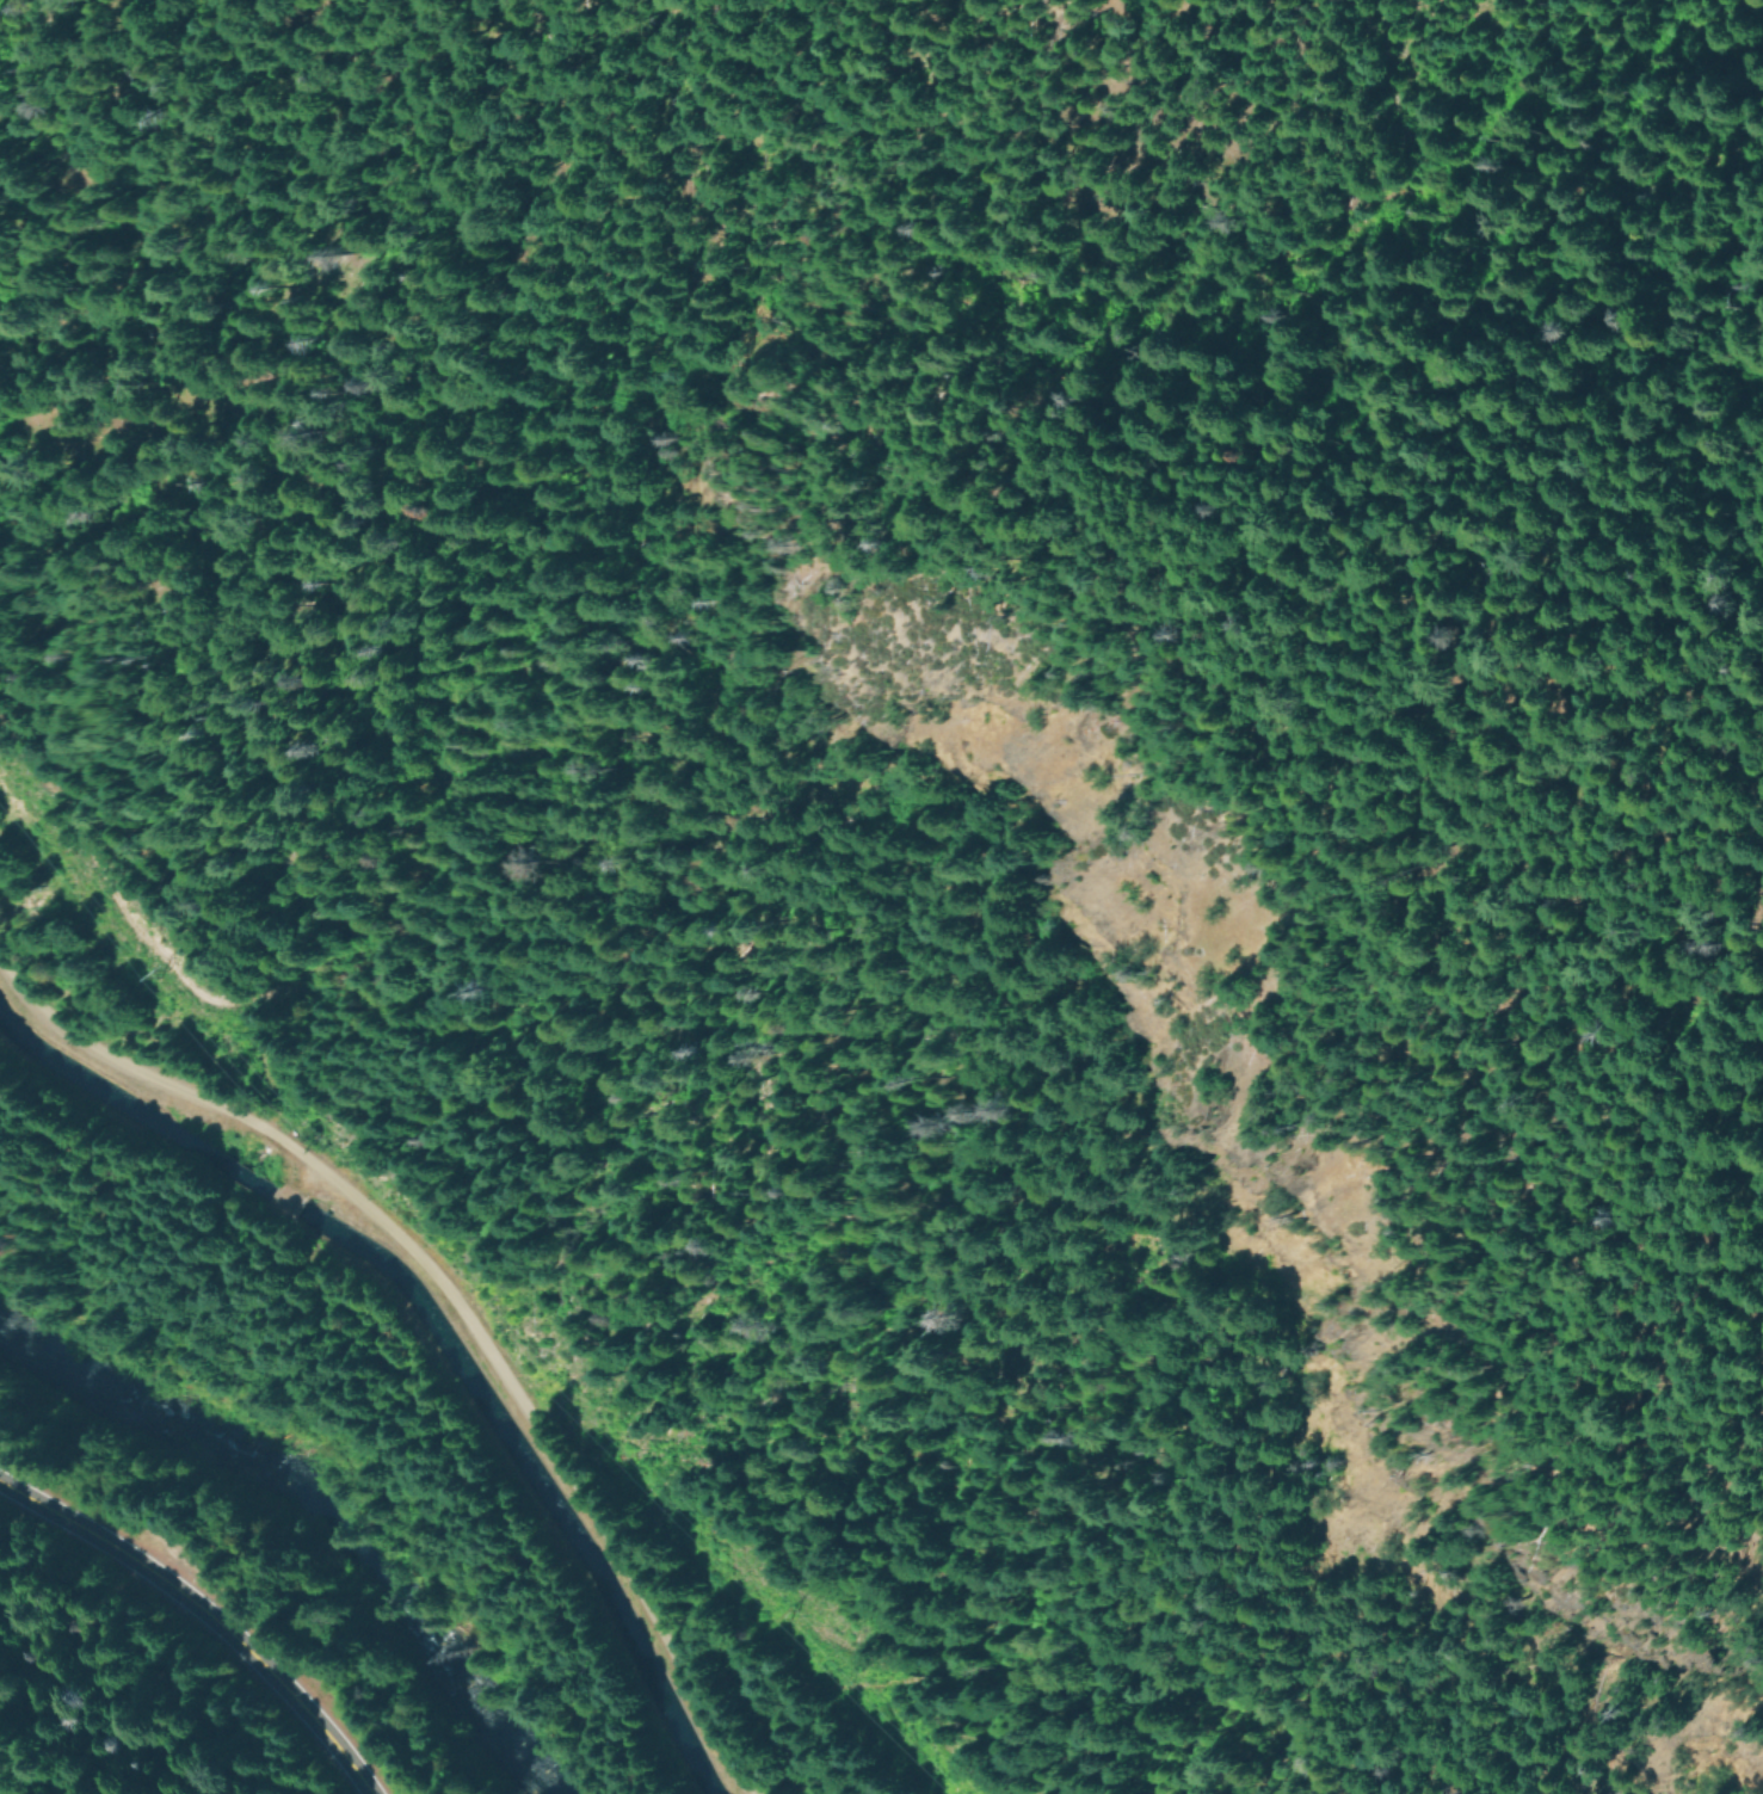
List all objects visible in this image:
road: (1305, 387)
road: (289, 1197)
road: (449, 1300)
river: (290, 1539)
road: (204, 1614)

